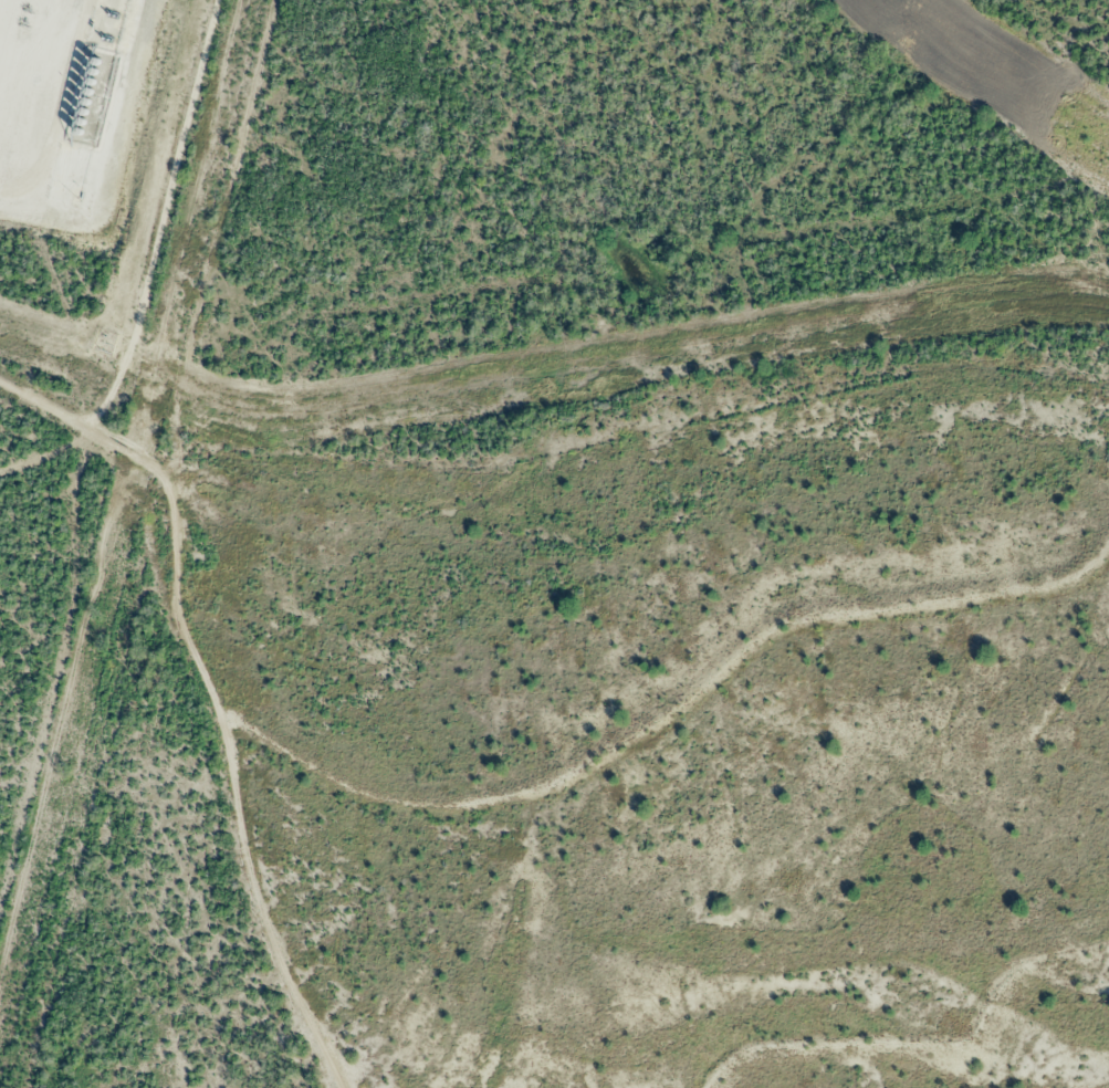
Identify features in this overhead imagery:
road: (627, 535)
road: (209, 679)

